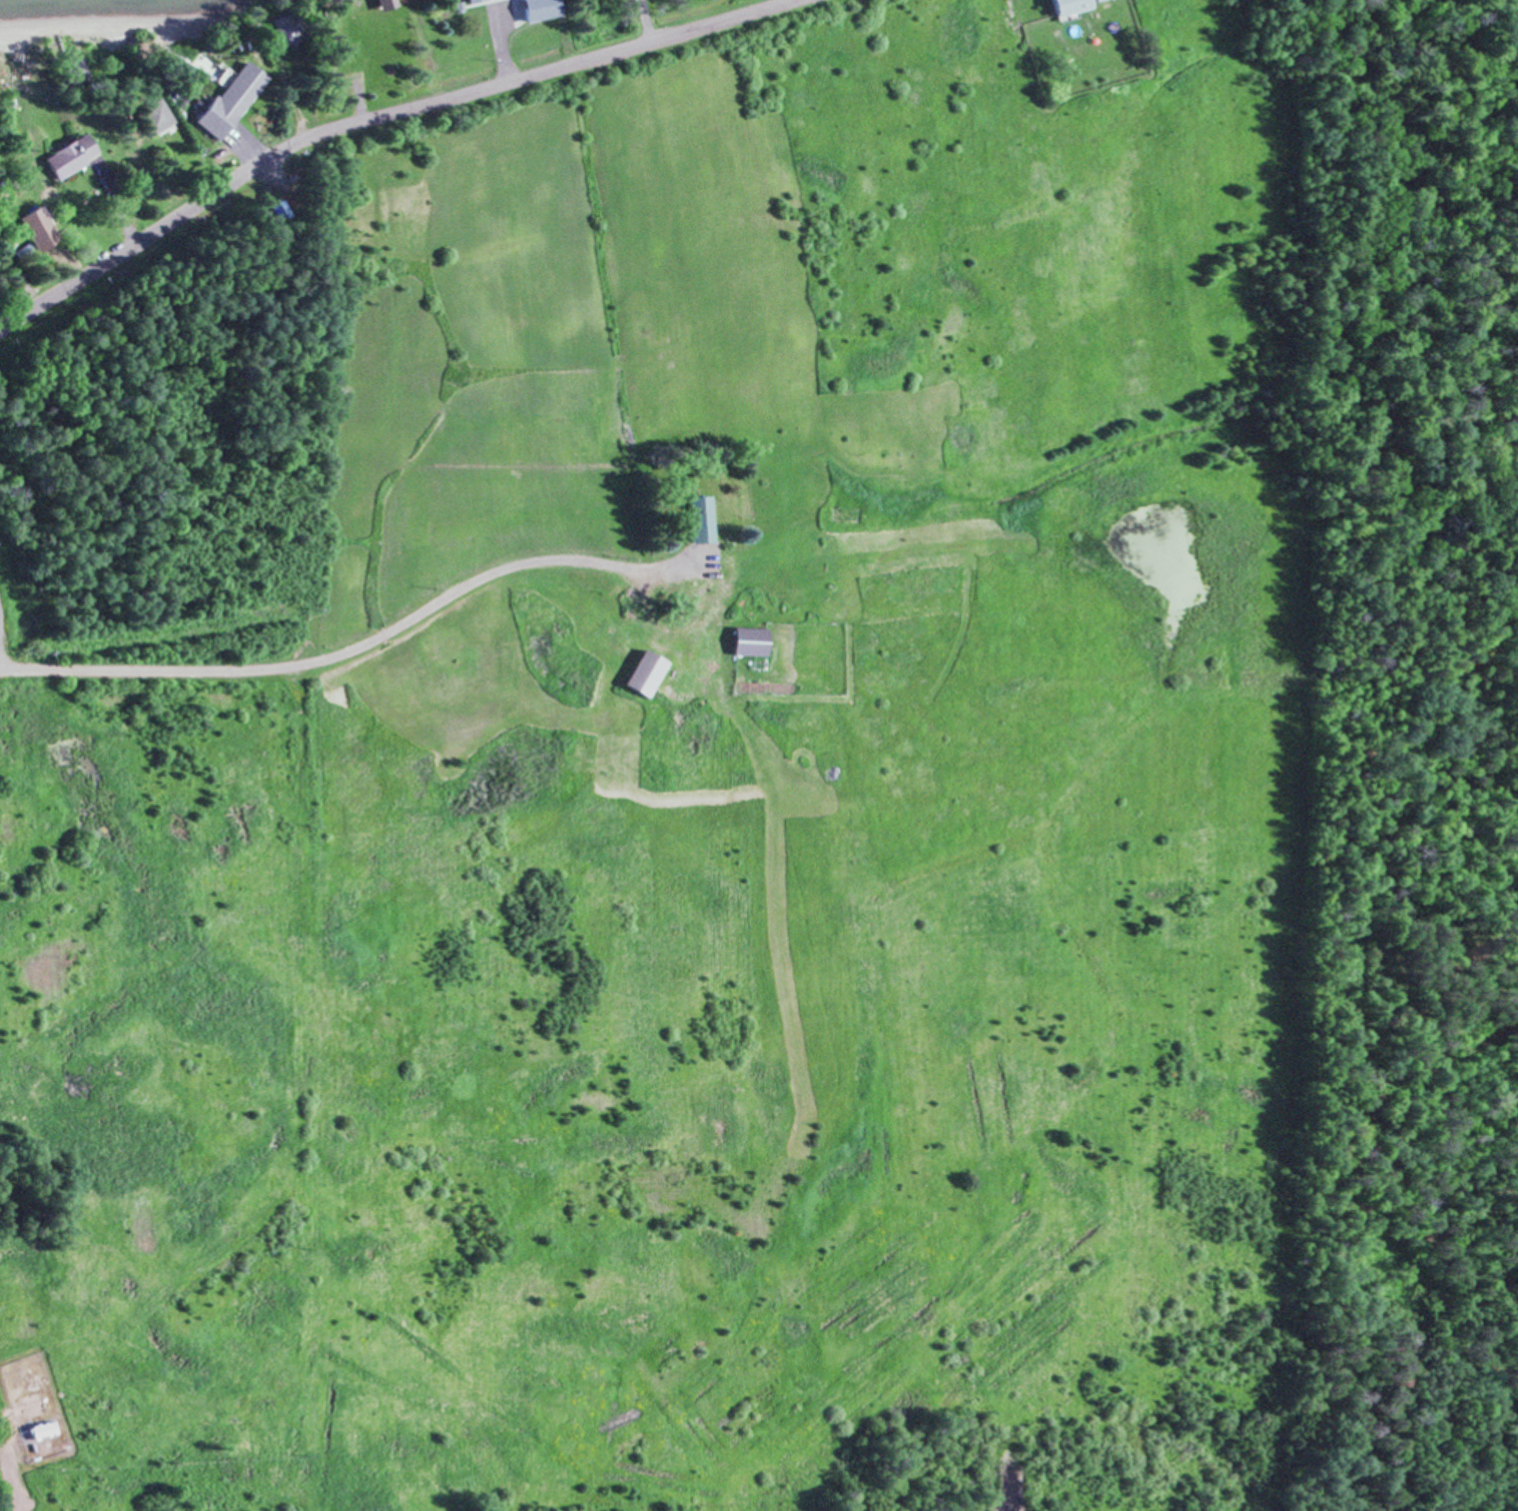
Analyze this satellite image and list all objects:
building: (469, 1)
building: (379, 4)
building: (1067, 6)
building: (537, 9)
building: (284, 28)
building: (74, 70)
building: (227, 98)
building: (151, 116)
road: (373, 119)
building: (66, 154)
building: (28, 228)
building: (37, 242)
building: (701, 518)
building: (748, 641)
road: (358, 645)
building: (644, 671)
building: (34, 1408)
building: (44, 1431)
road: (5, 1472)

